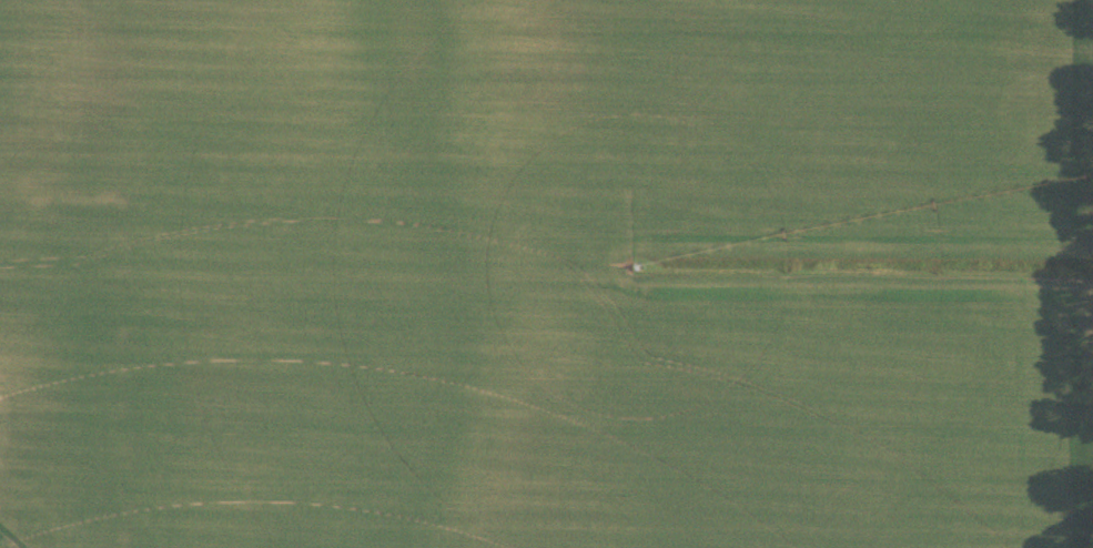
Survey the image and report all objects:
crop: (546, 274)

